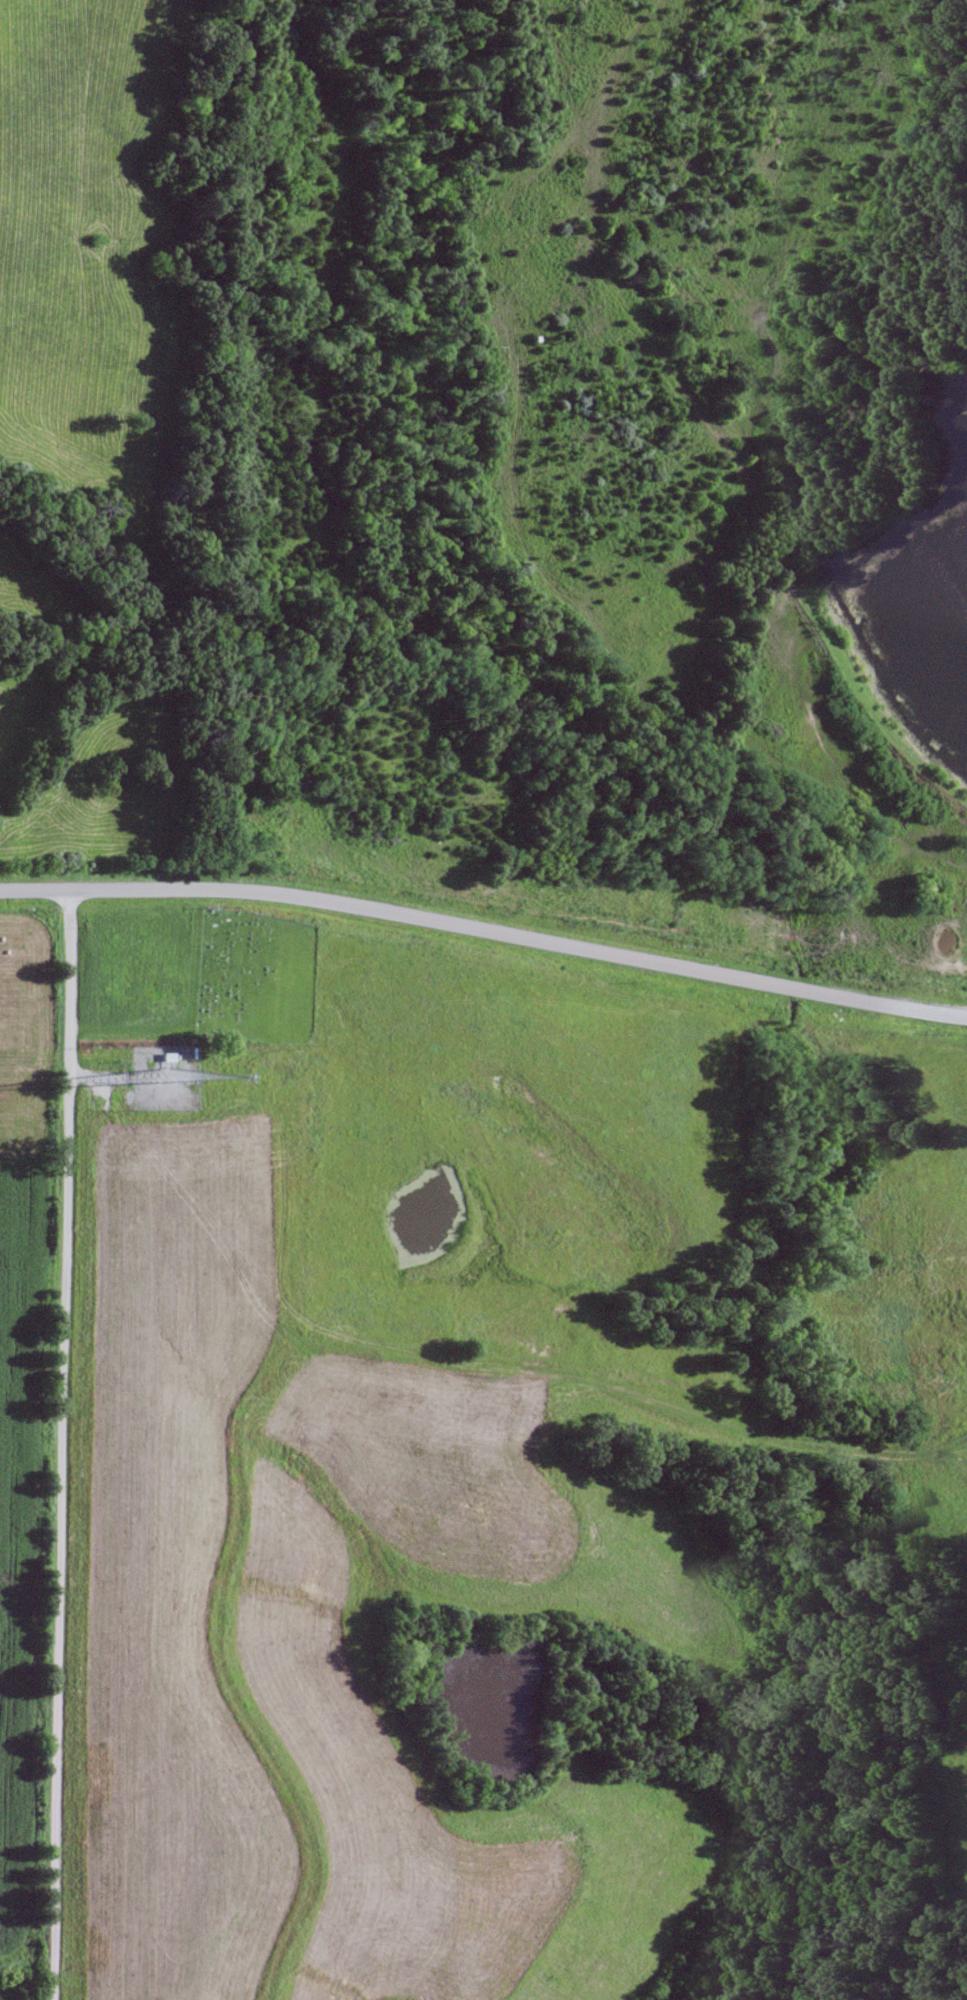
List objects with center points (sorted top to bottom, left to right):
road: (485, 932)
park: (257, 975)
road: (339, 1055)
building: (549, 1217)
road: (512, 1372)
road: (61, 1445)

